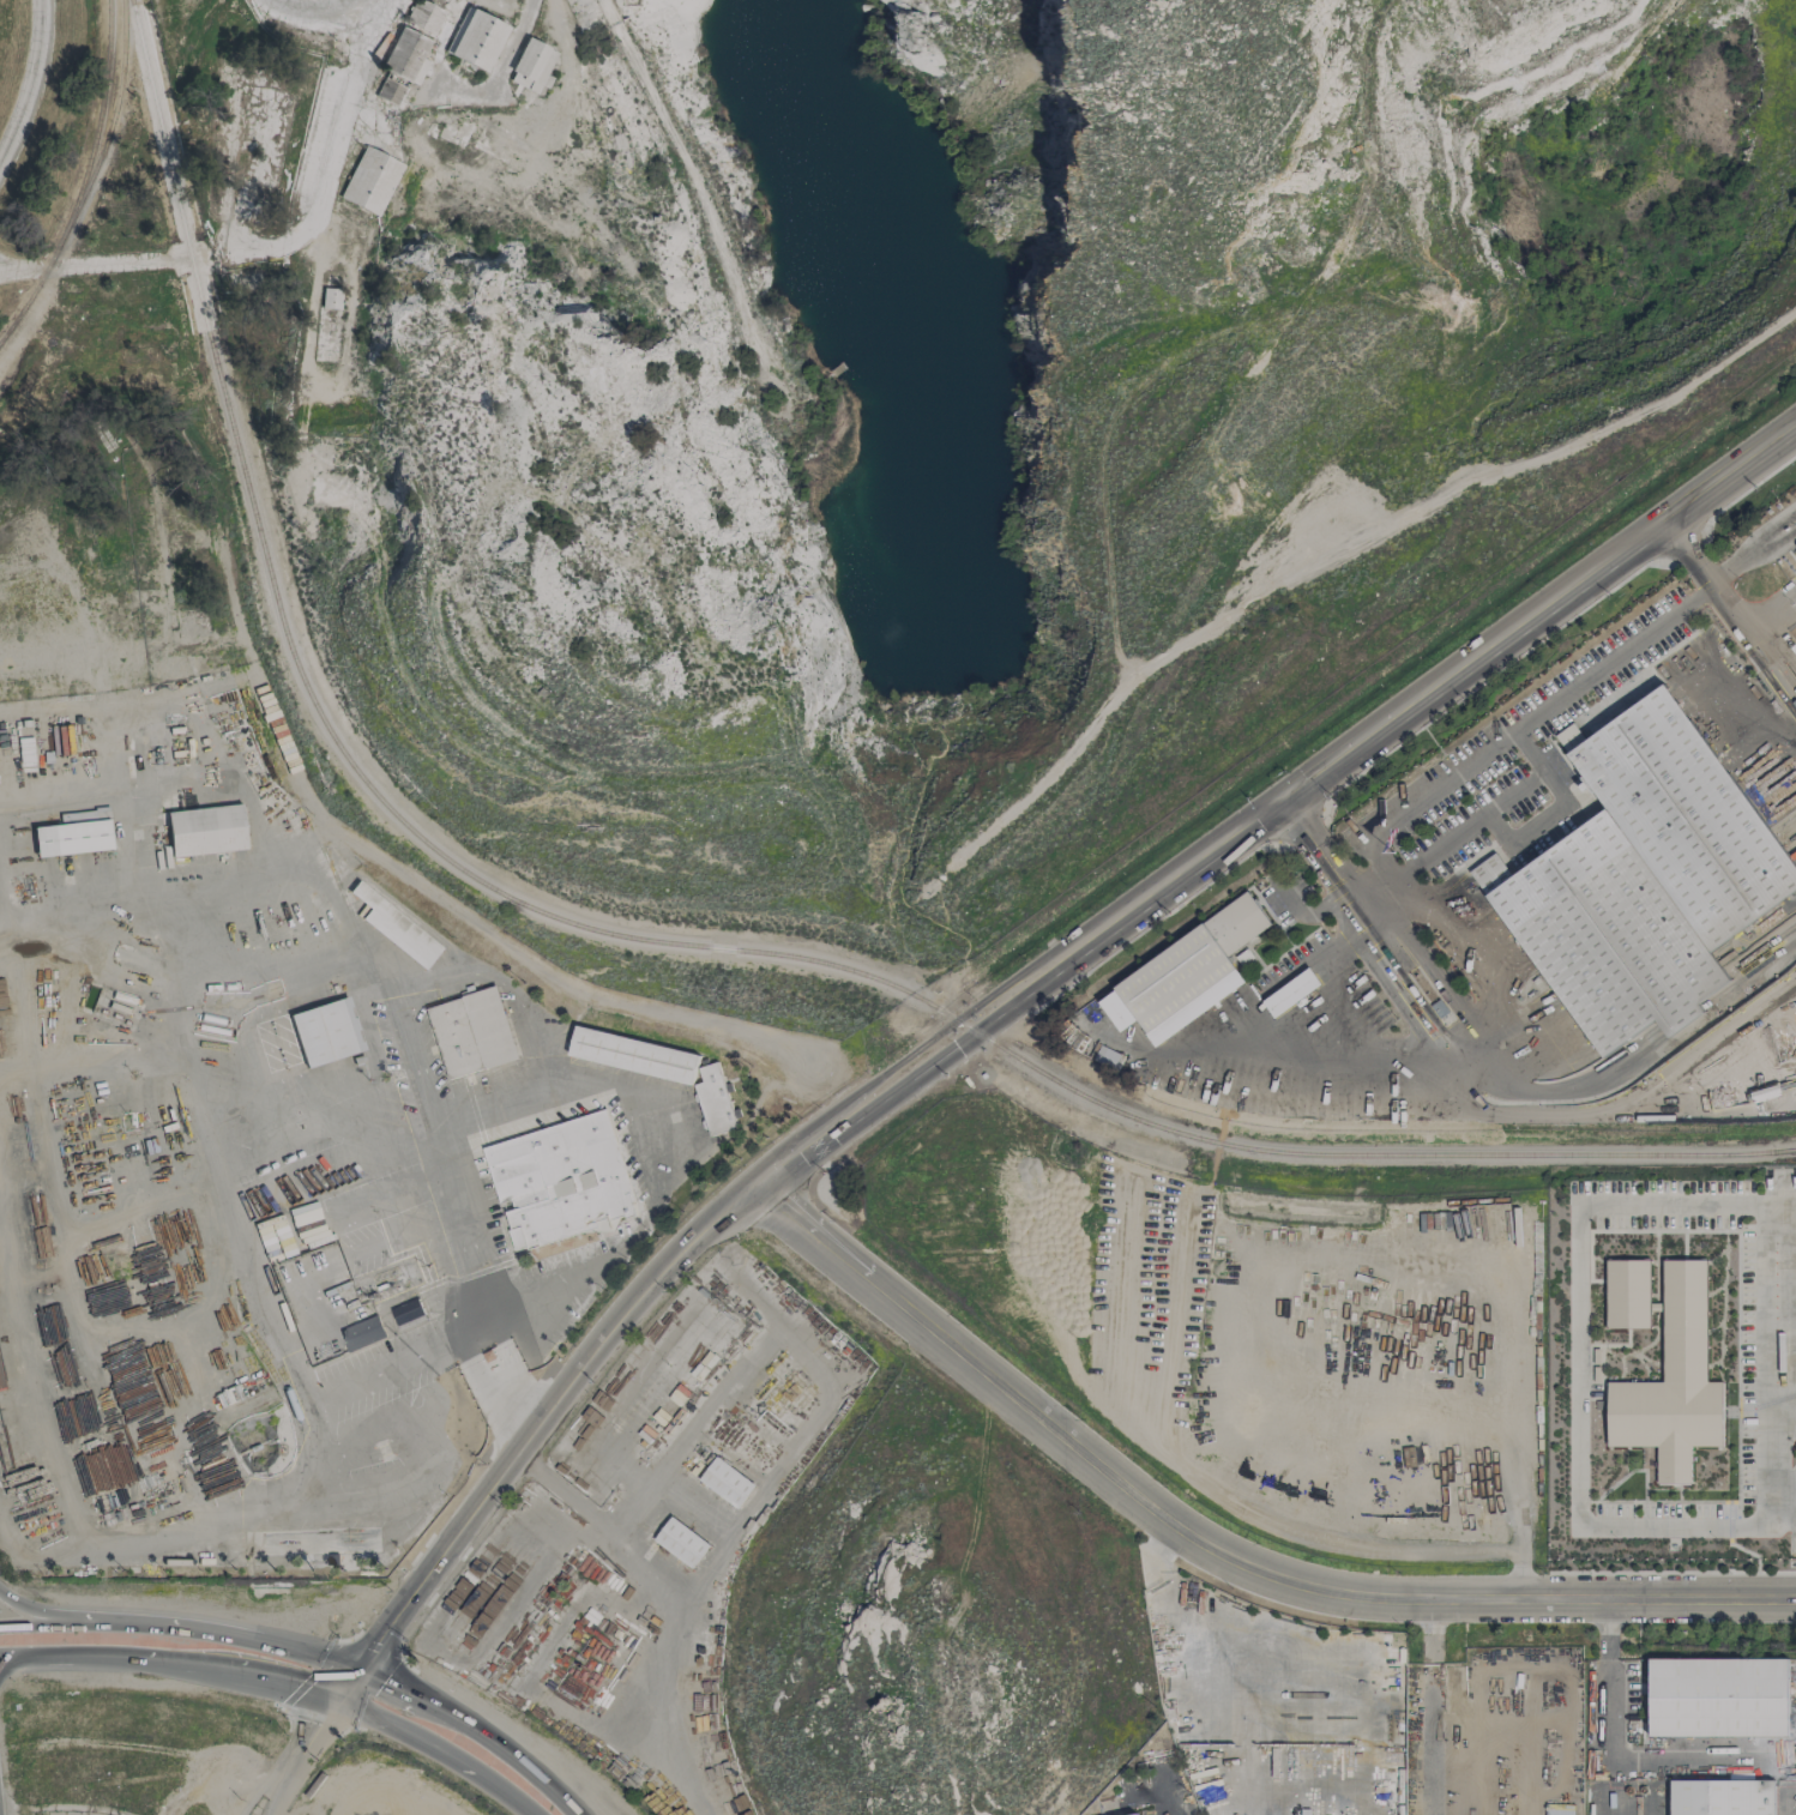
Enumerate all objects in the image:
road: (318, 10)
building: (423, 16)
building: (475, 38)
building: (531, 64)
building: (400, 66)
road: (30, 83)
building: (323, 97)
railway: (100, 104)
railway: (106, 139)
building: (369, 181)
road: (267, 236)
building: (330, 297)
railway: (16, 316)
quarry: (1036, 375)
road: (1597, 568)
road: (1722, 602)
road: (1782, 647)
road: (1339, 758)
road: (1436, 795)
building: (205, 830)
building: (73, 833)
road: (263, 837)
building: (1643, 876)
road: (140, 911)
building: (394, 927)
railway: (665, 942)
road: (2, 943)
building: (1186, 975)
road: (163, 977)
building: (1291, 993)
building: (325, 1031)
building: (472, 1032)
building: (633, 1054)
road: (1360, 1067)
road: (212, 1086)
building: (713, 1099)
road: (1620, 1105)
road: (426, 1116)
road: (669, 1120)
railway: (1784, 1151)
building: (560, 1181)
road: (749, 1190)
building: (1627, 1292)
building: (406, 1311)
building: (362, 1333)
road: (1768, 1359)
road: (1578, 1368)
building: (1673, 1382)
road: (1782, 1397)
building: (727, 1482)
road: (1511, 1516)
building: (681, 1540)
road: (1159, 1551)
road: (1215, 1551)
road: (44, 1612)
road: (177, 1629)
road: (170, 1659)
road: (1248, 1676)
road: (382, 1683)
building: (1718, 1698)
road: (501, 1748)
road: (439, 1749)
road: (1429, 1753)
road: (300, 1756)
road: (1613, 1756)
landfill: (381, 1786)
building: (1722, 1797)
road: (1163, 1811)
building: (1557, 1811)
building: (1134, 1814)

